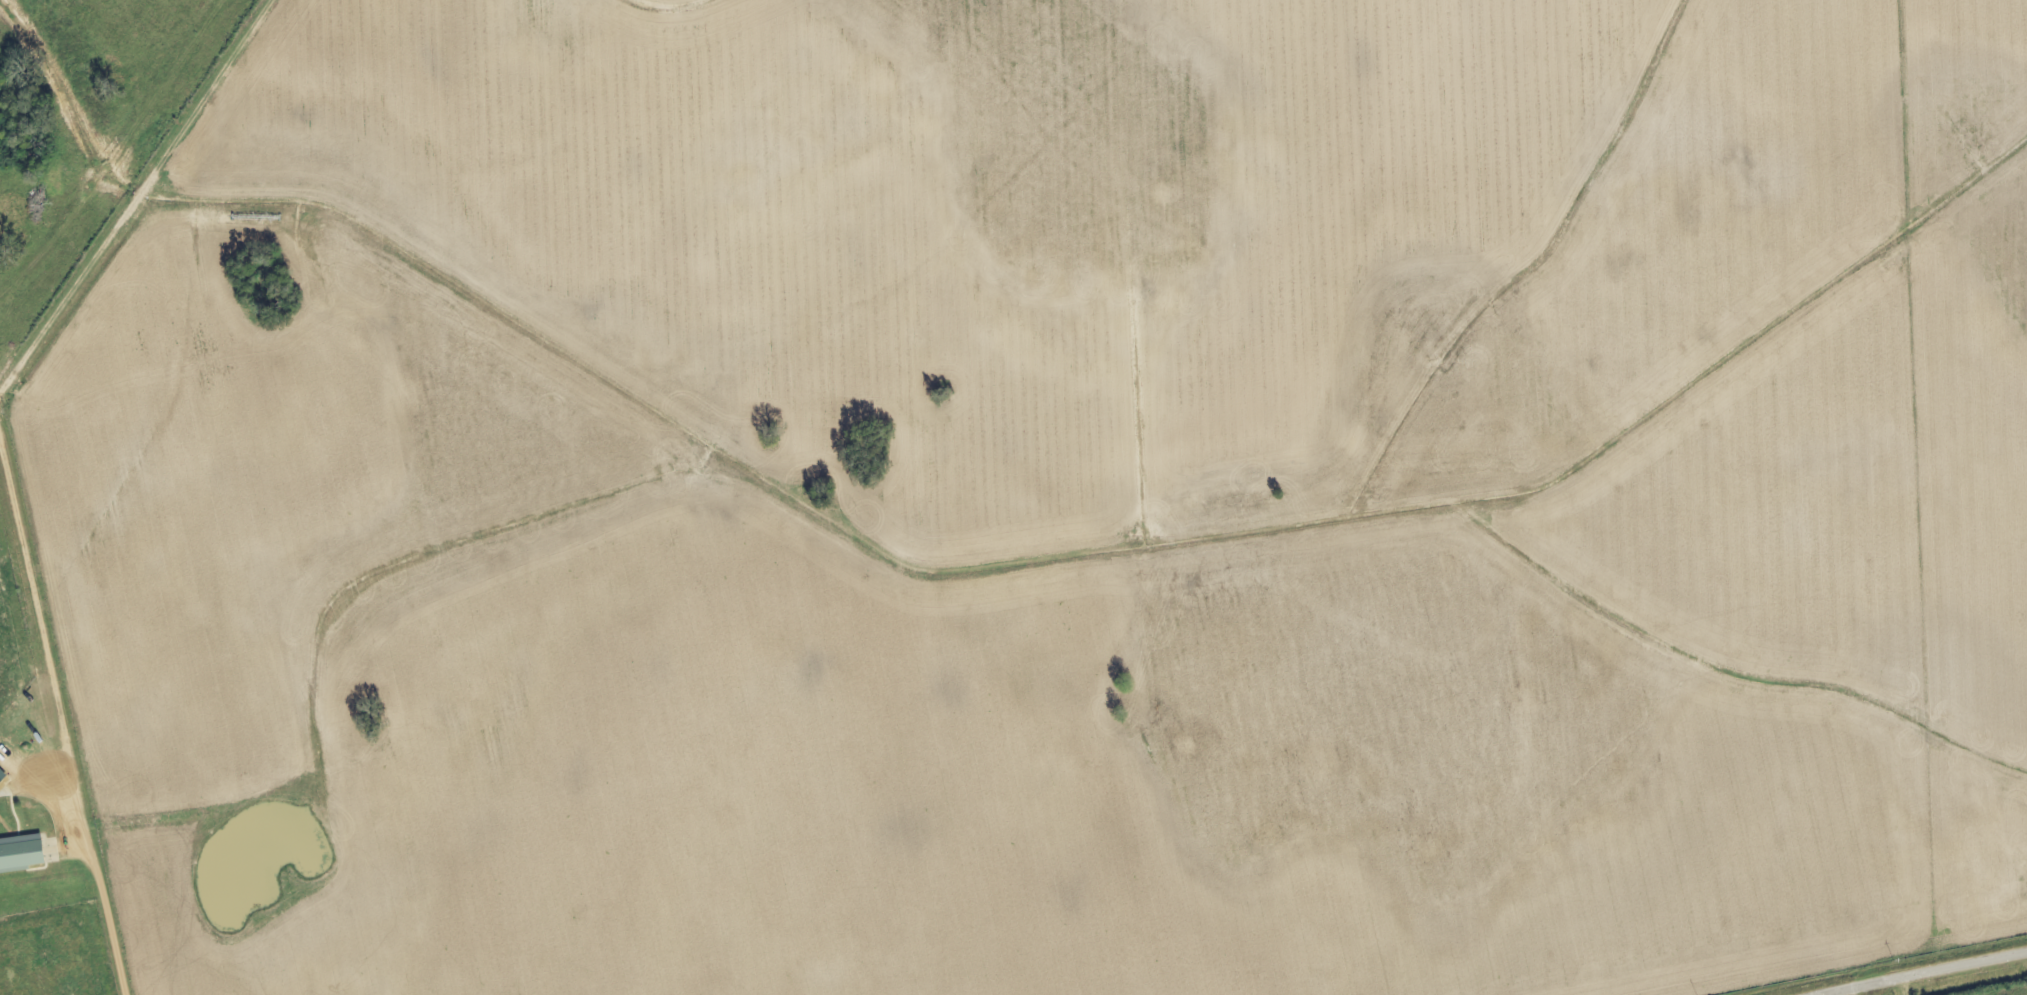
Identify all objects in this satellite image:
building: (20, 857)
road: (98, 888)
road: (1934, 976)

